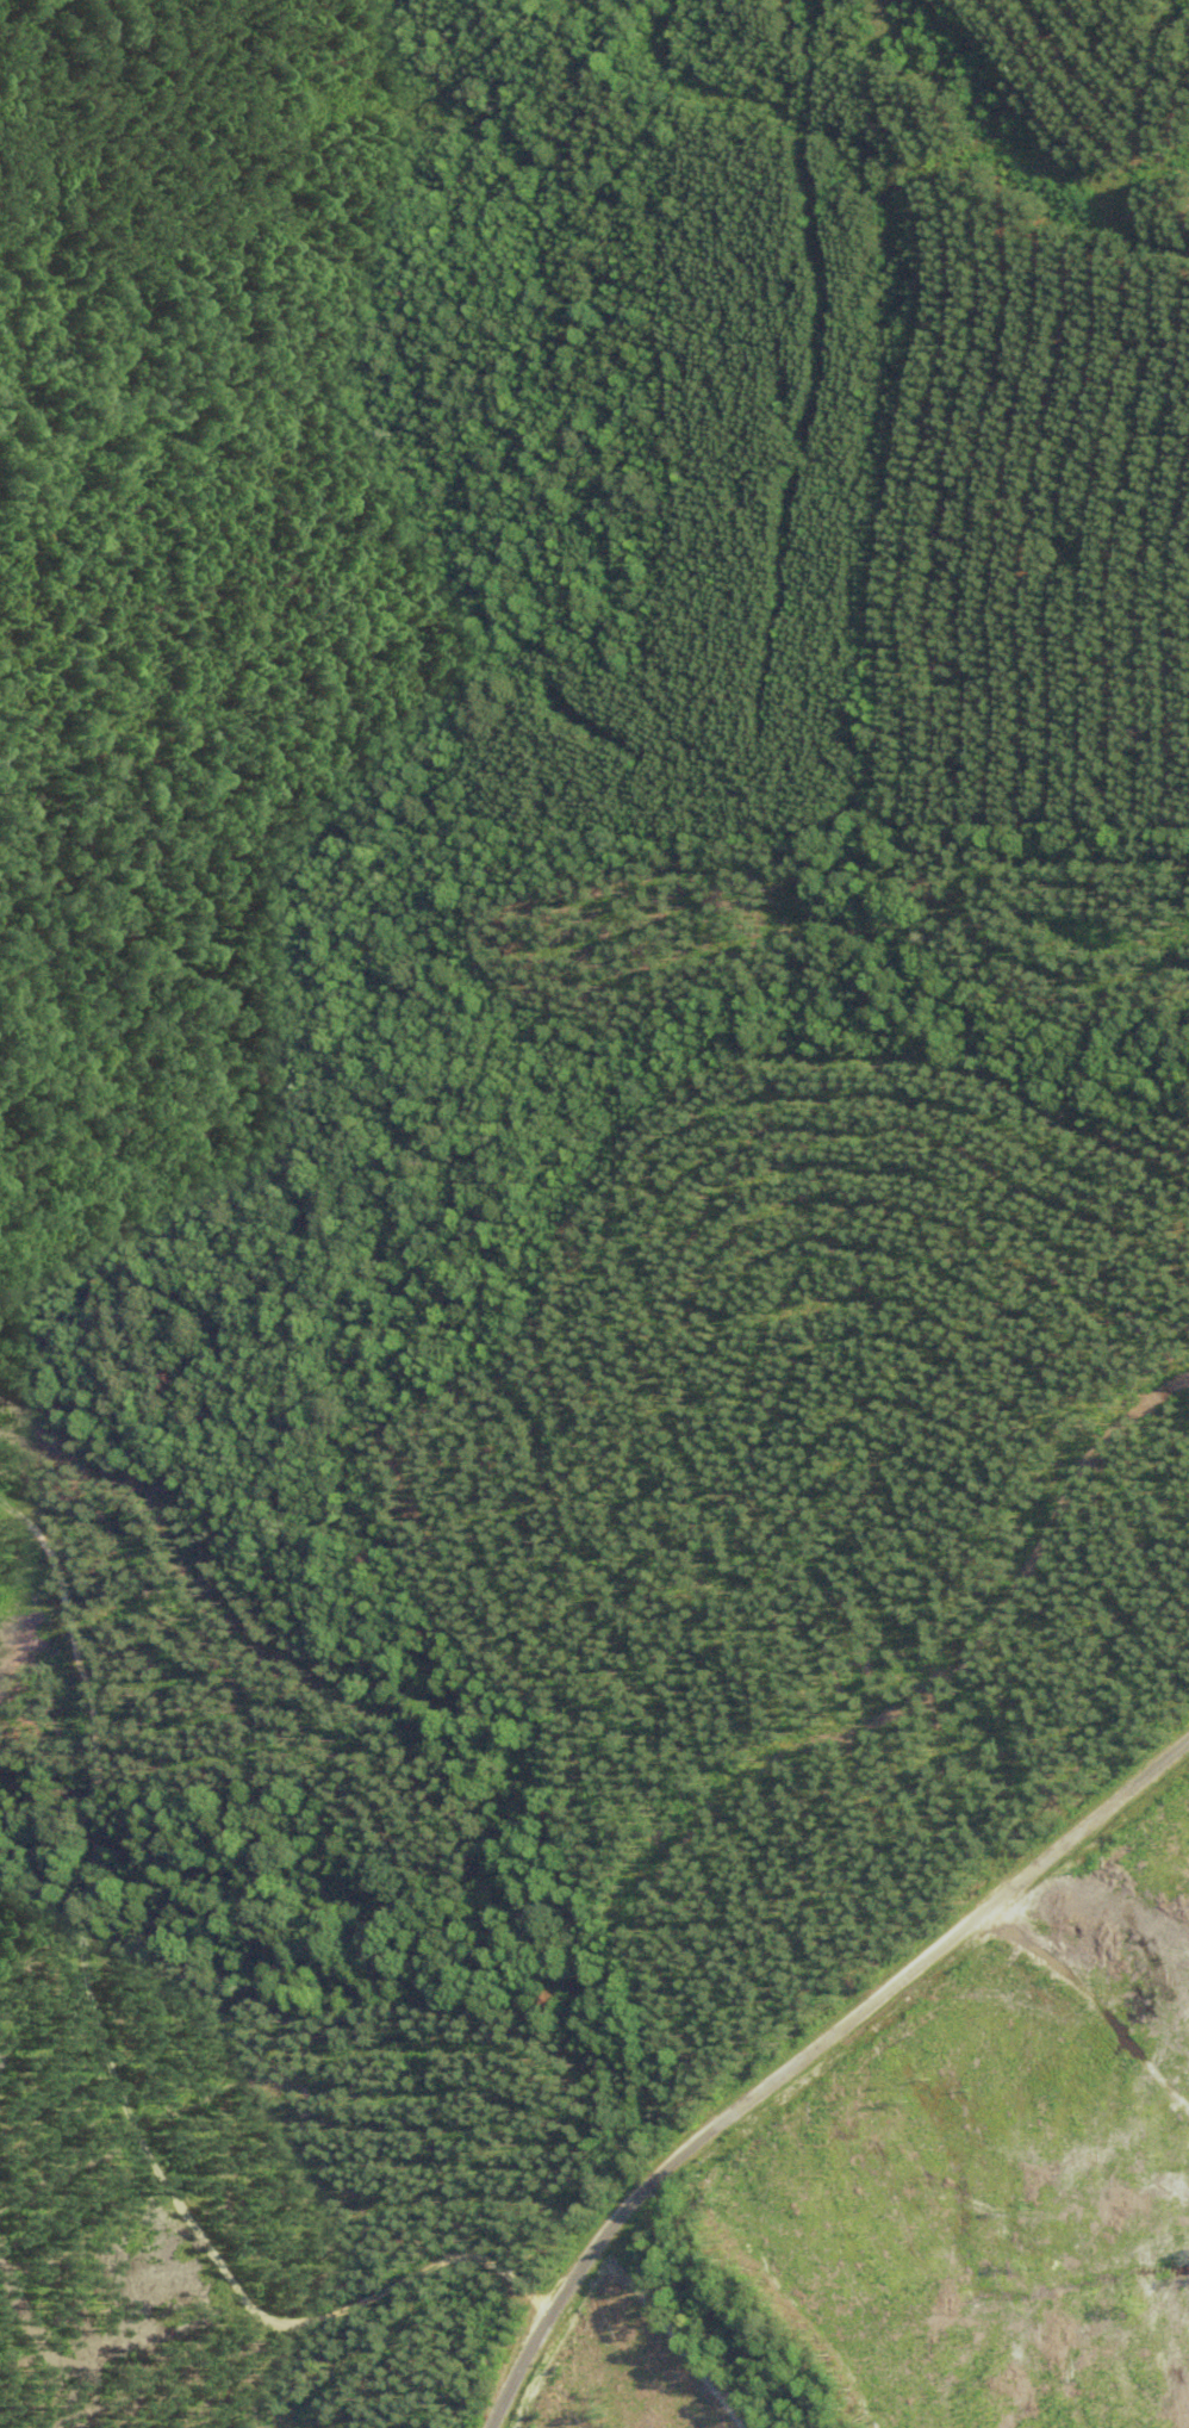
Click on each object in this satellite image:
road: (804, 2053)

